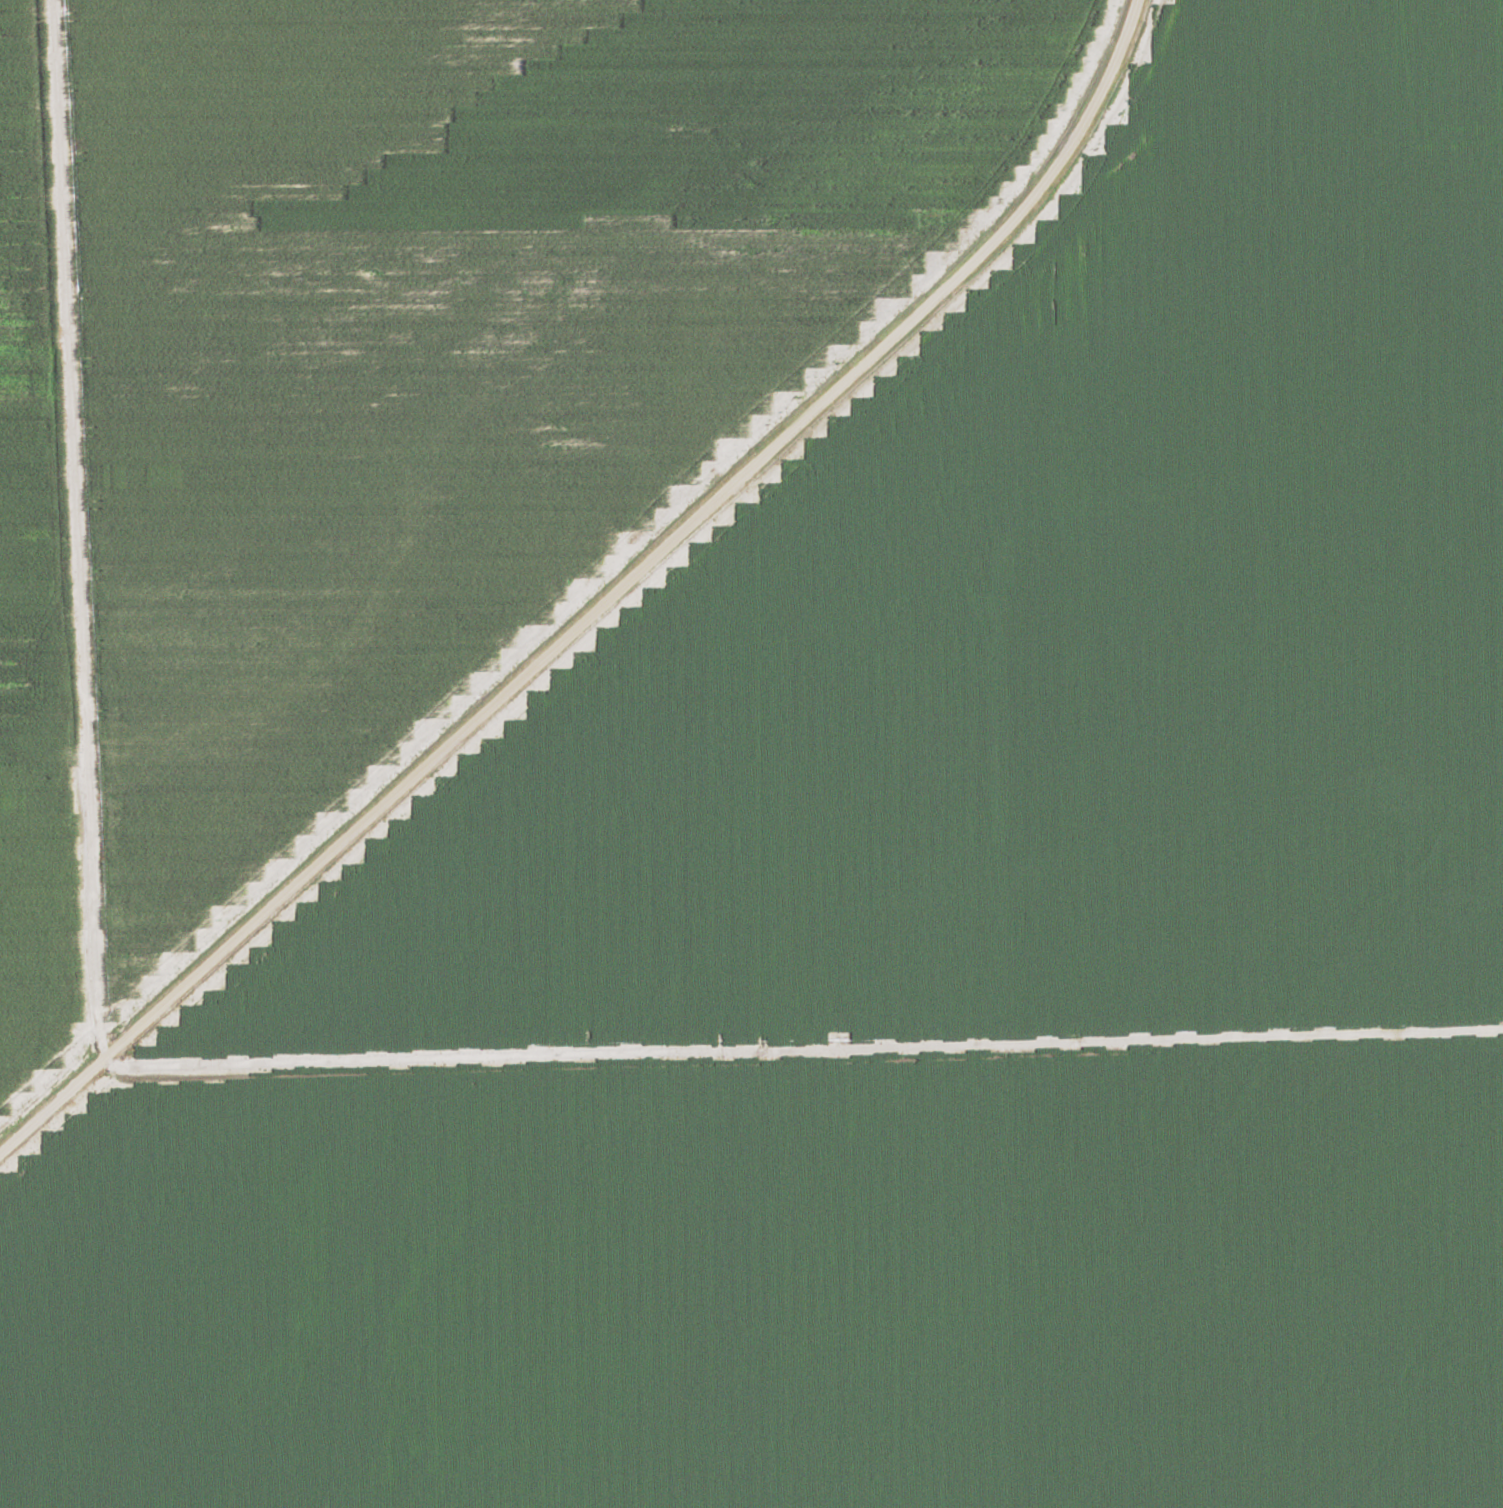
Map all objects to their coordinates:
road: (600, 600)

